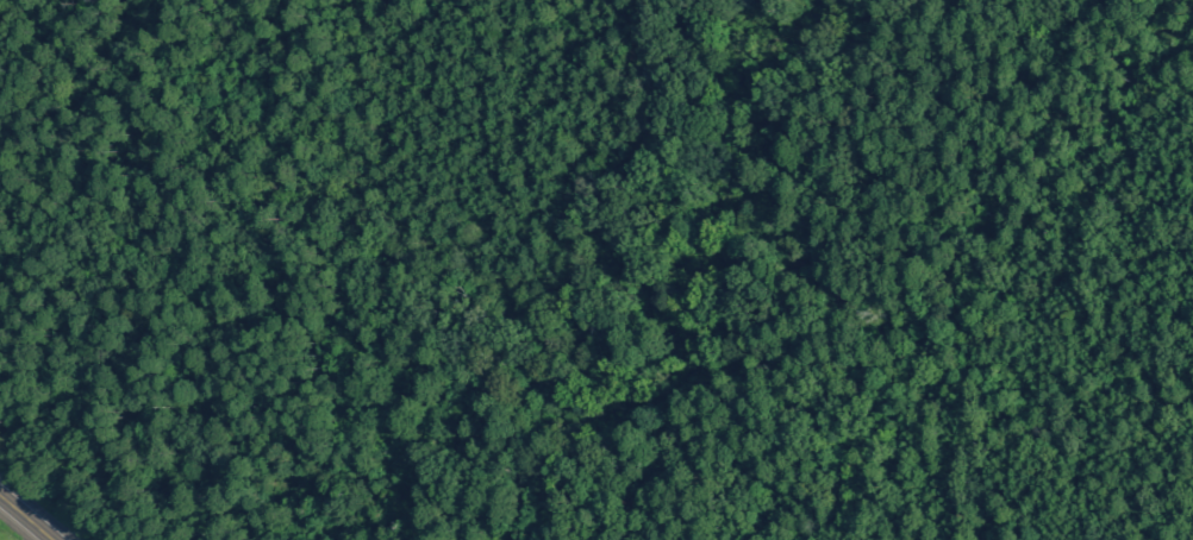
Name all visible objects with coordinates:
road: (24, 520)

